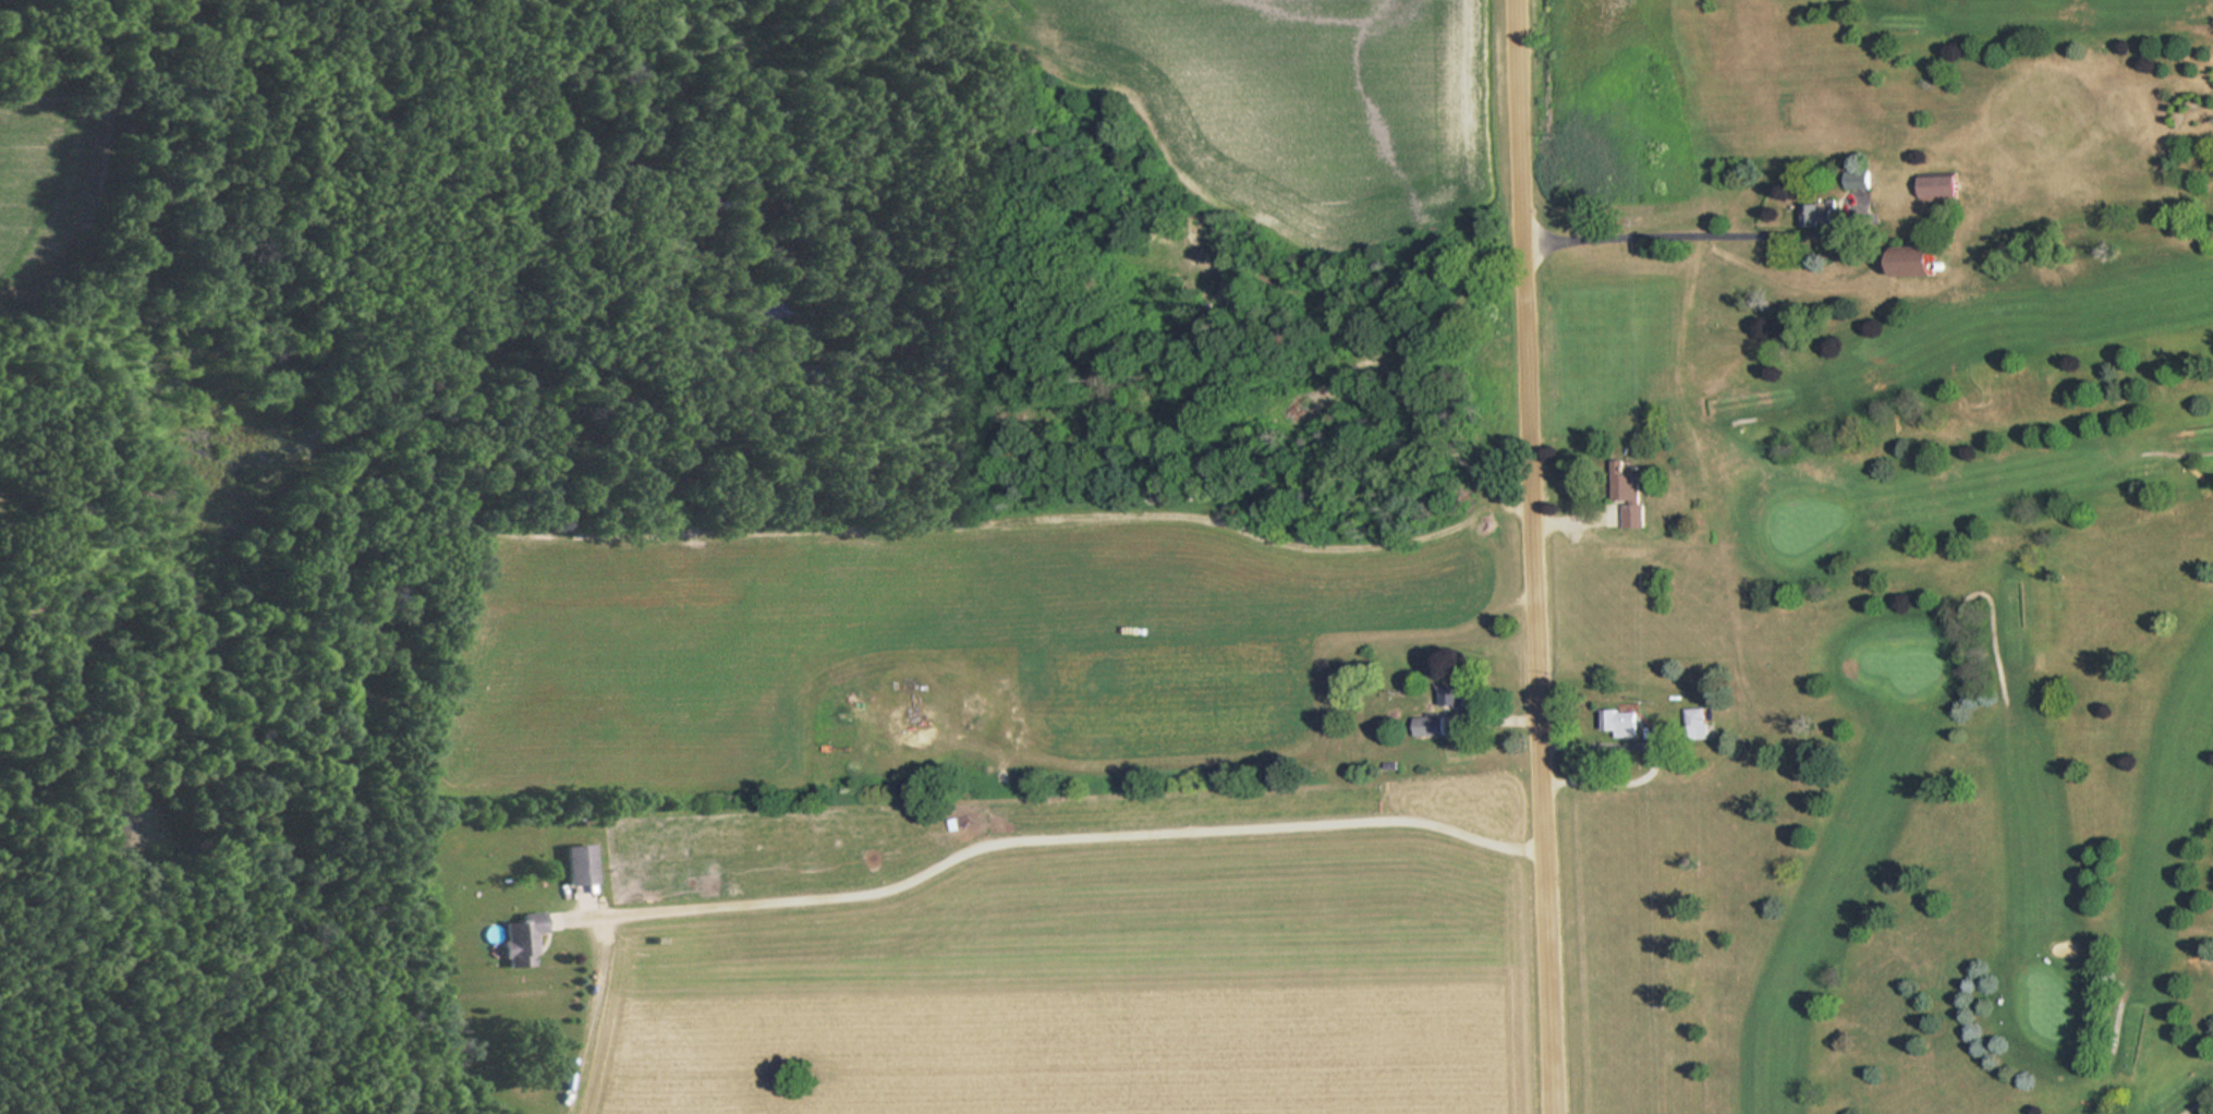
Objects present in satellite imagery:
building: (1945, 186)
building: (1825, 214)
building: (1928, 267)
building: (1630, 494)
park: (1893, 553)
road: (1535, 557)
building: (1458, 694)
building: (1697, 722)
building: (1622, 725)
building: (1431, 726)
building: (581, 864)
building: (522, 940)

